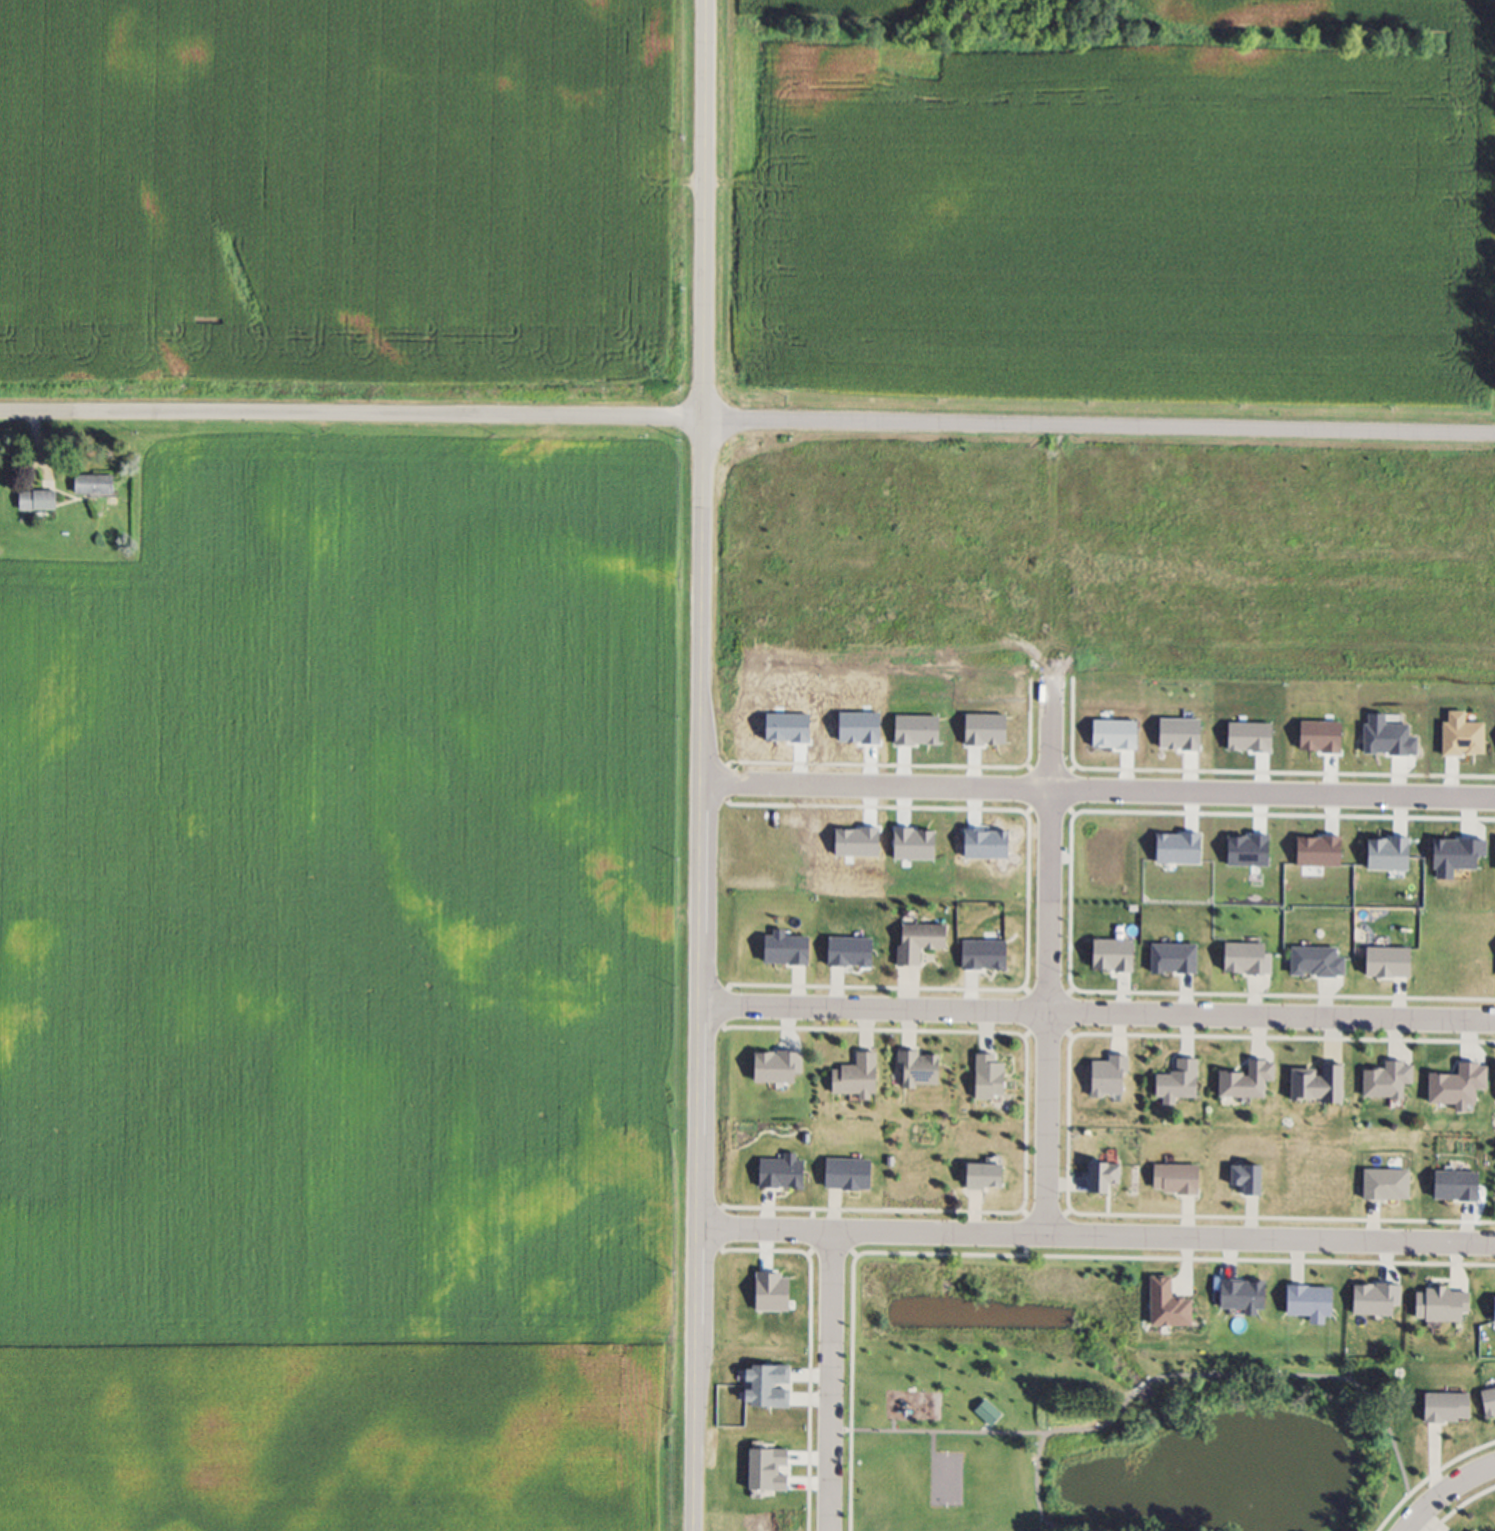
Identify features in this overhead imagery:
road: (351, 411)
road: (1099, 424)
building: (102, 490)
building: (43, 506)
road: (698, 765)
road: (1096, 789)
building: (927, 947)
road: (1052, 959)
road: (1095, 1018)
building: (927, 1073)
building: (864, 1081)
building: (997, 1082)
building: (1255, 1084)
building: (1395, 1084)
building: (1185, 1086)
building: (1323, 1087)
building: (991, 1180)
road: (1095, 1241)
road: (838, 1385)
park: (1091, 1406)
building: (991, 1417)
road: (1449, 1493)

